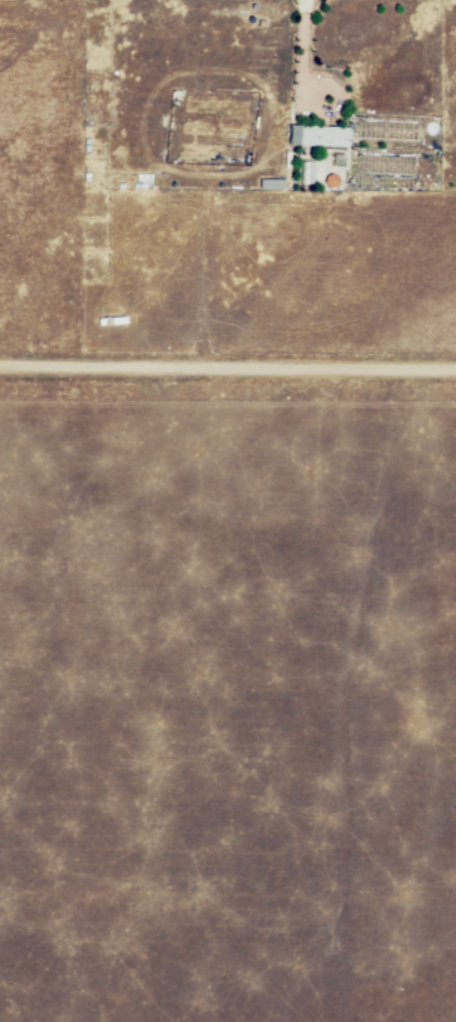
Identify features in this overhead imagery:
building: (320, 136)
building: (271, 186)
road: (228, 371)

